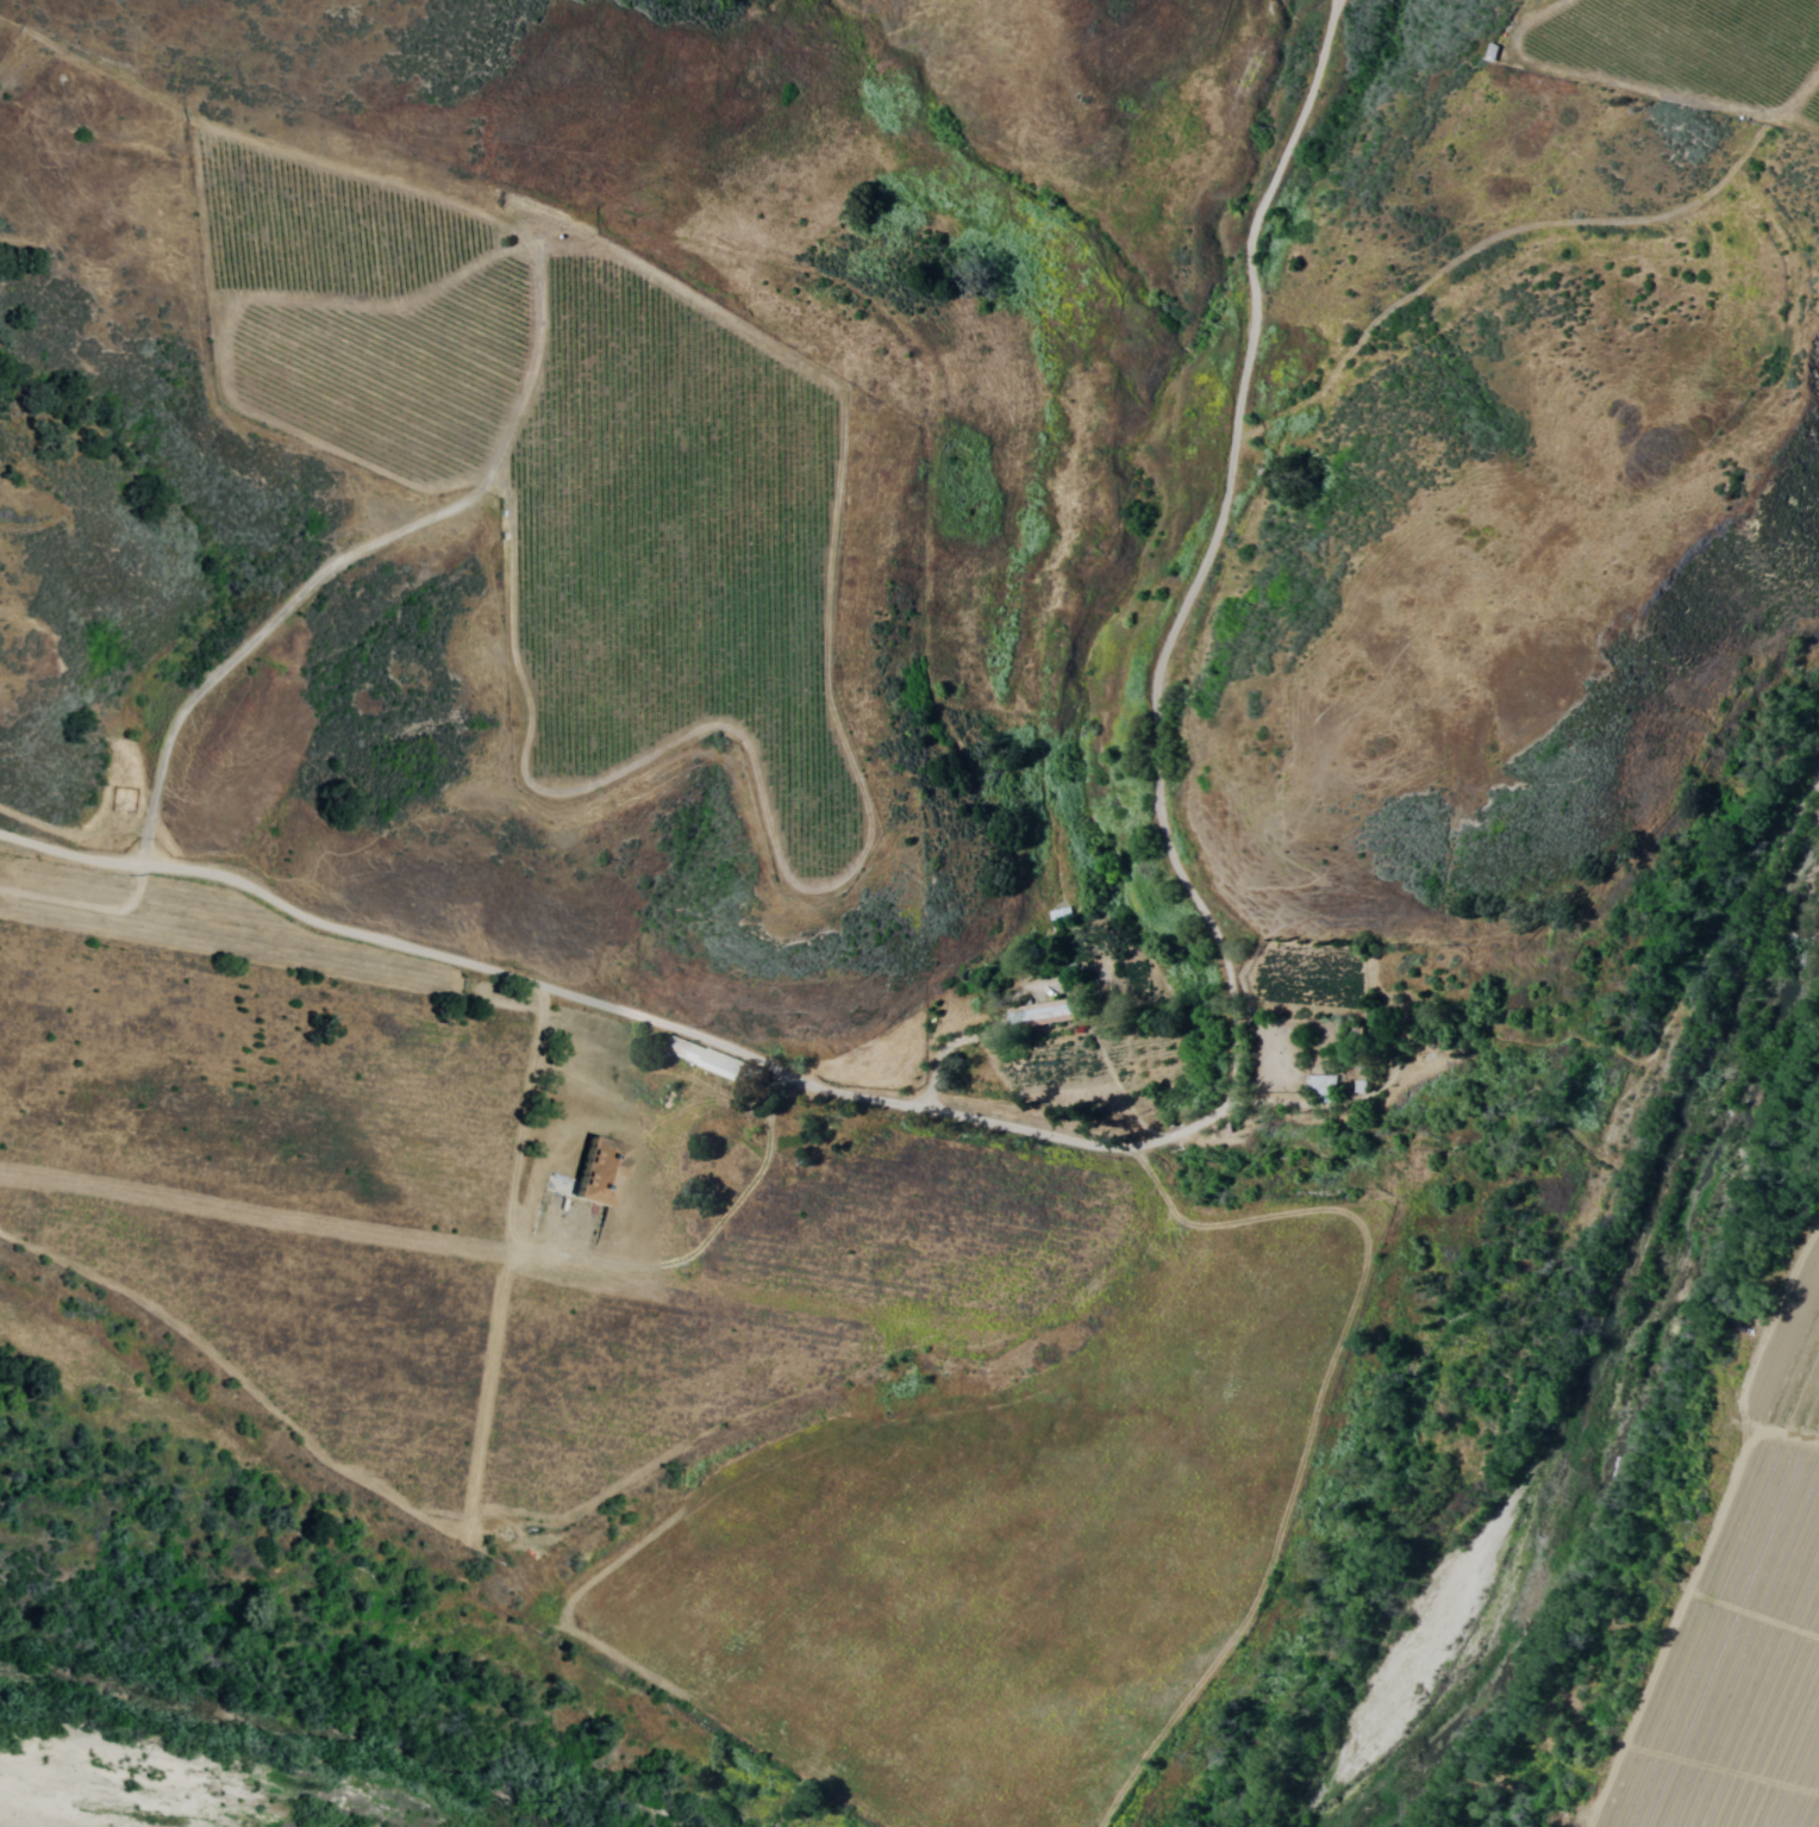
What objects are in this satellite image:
road: (1292, 18)
road: (558, 363)
crop: (632, 506)
road: (1126, 772)
road: (1002, 966)
building: (1051, 1012)
building: (1324, 1086)
building: (604, 1170)
crop: (489, 1192)
river: (1588, 1352)
crop: (1752, 1641)
river: (225, 1781)

